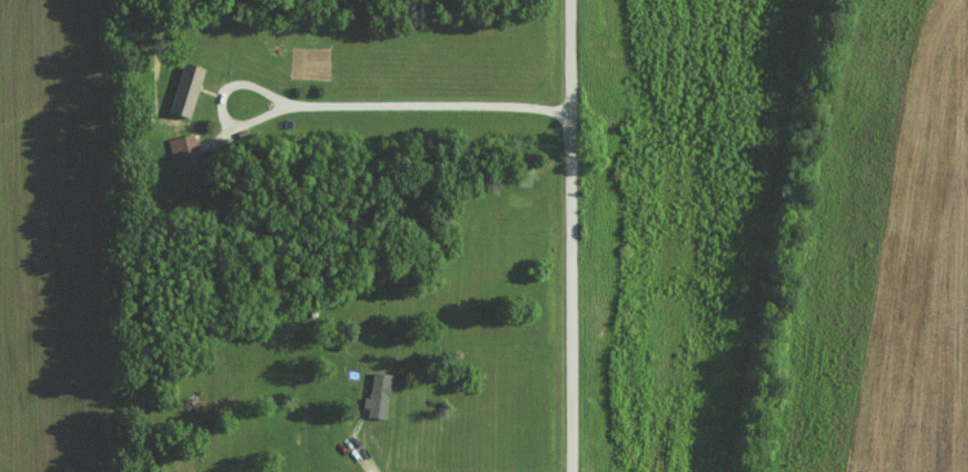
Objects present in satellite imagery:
building: (184, 89)
road: (348, 107)
building: (182, 152)
road: (573, 235)
building: (375, 395)
road: (368, 469)

